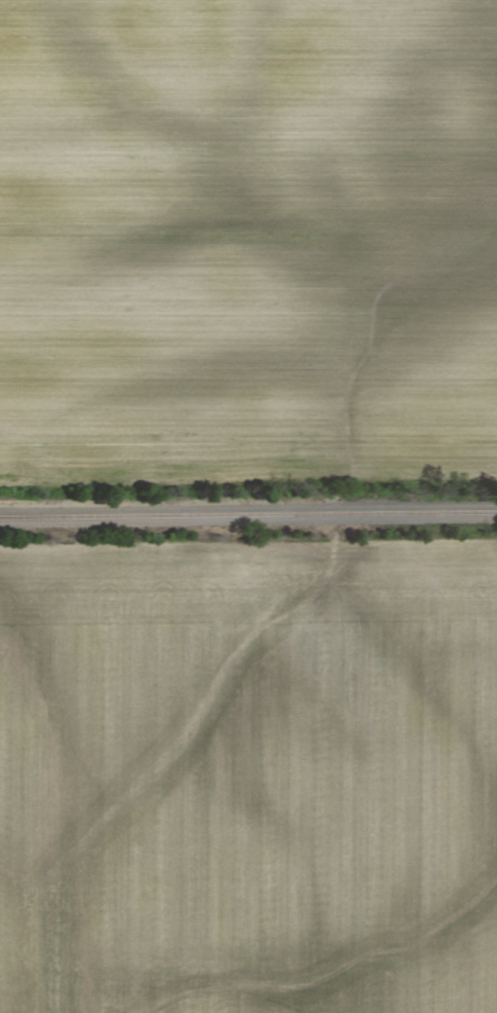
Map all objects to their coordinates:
railway: (248, 515)

